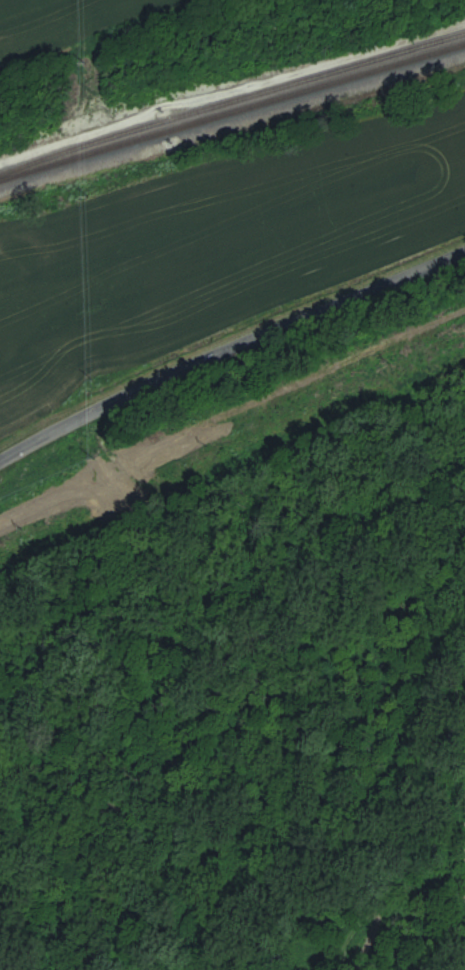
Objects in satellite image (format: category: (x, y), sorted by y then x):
railway: (232, 112)
road: (229, 351)

